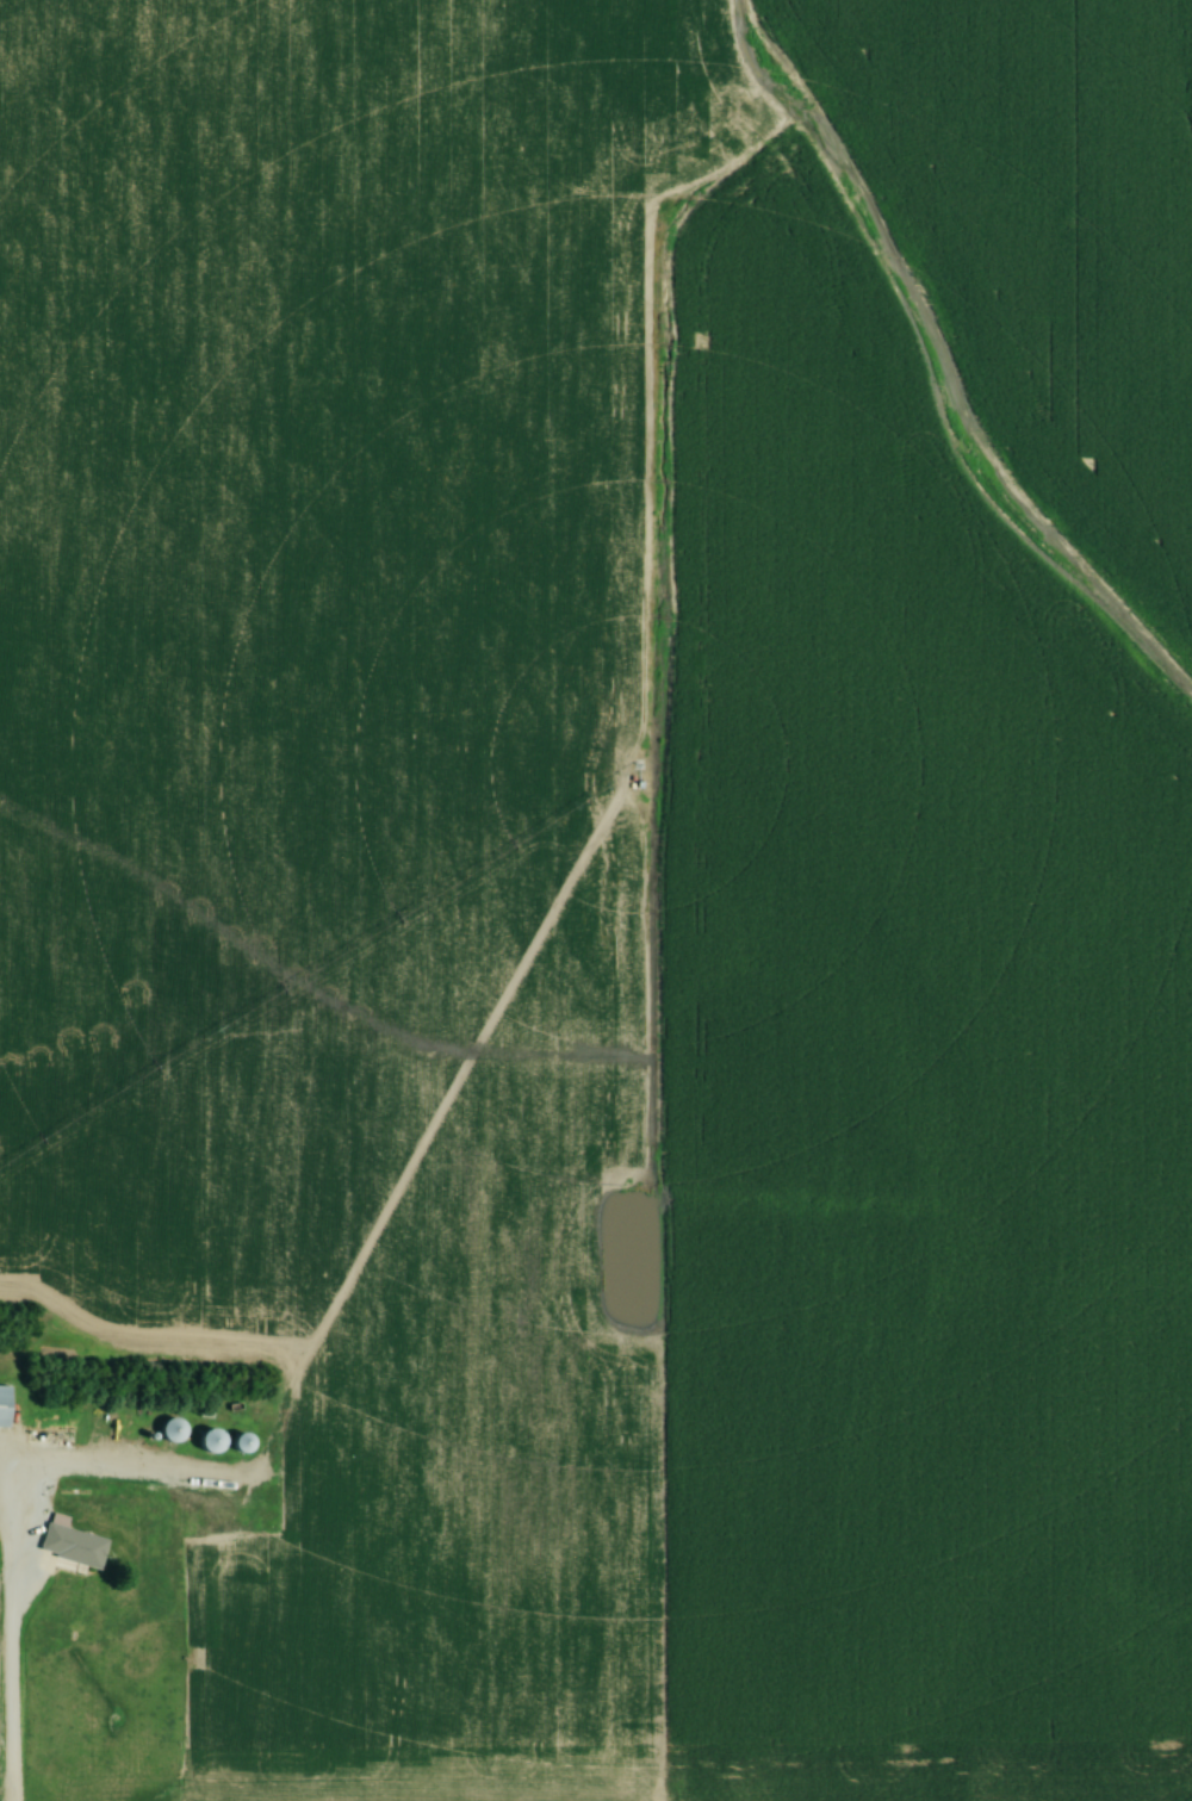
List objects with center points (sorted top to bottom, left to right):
building: (2, 1406)
building: (169, 1432)
building: (209, 1442)
building: (240, 1445)
building: (70, 1545)
road: (10, 1684)

